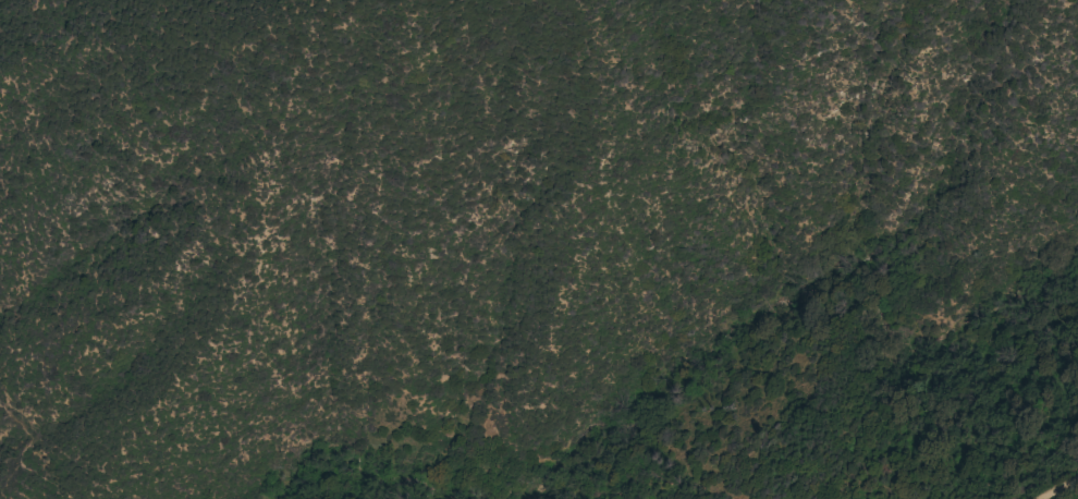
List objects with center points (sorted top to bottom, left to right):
road: (52, 425)
road: (1066, 495)

